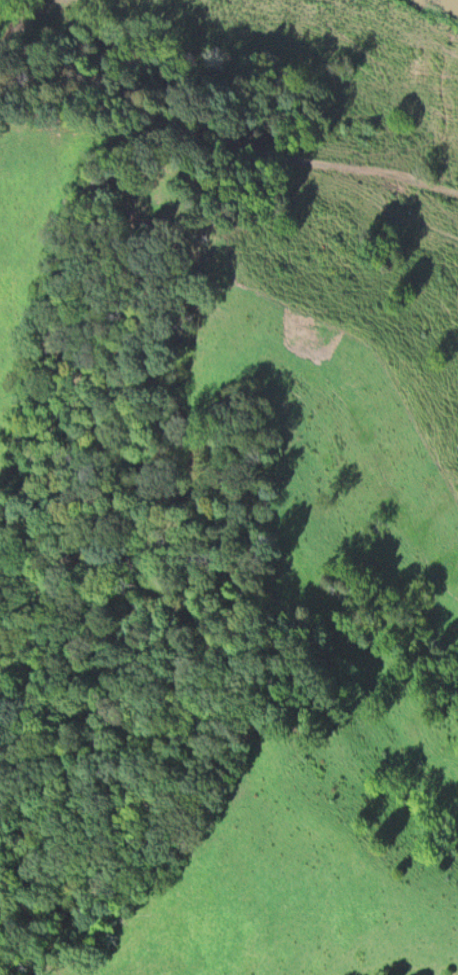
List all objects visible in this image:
road: (115, 130)

